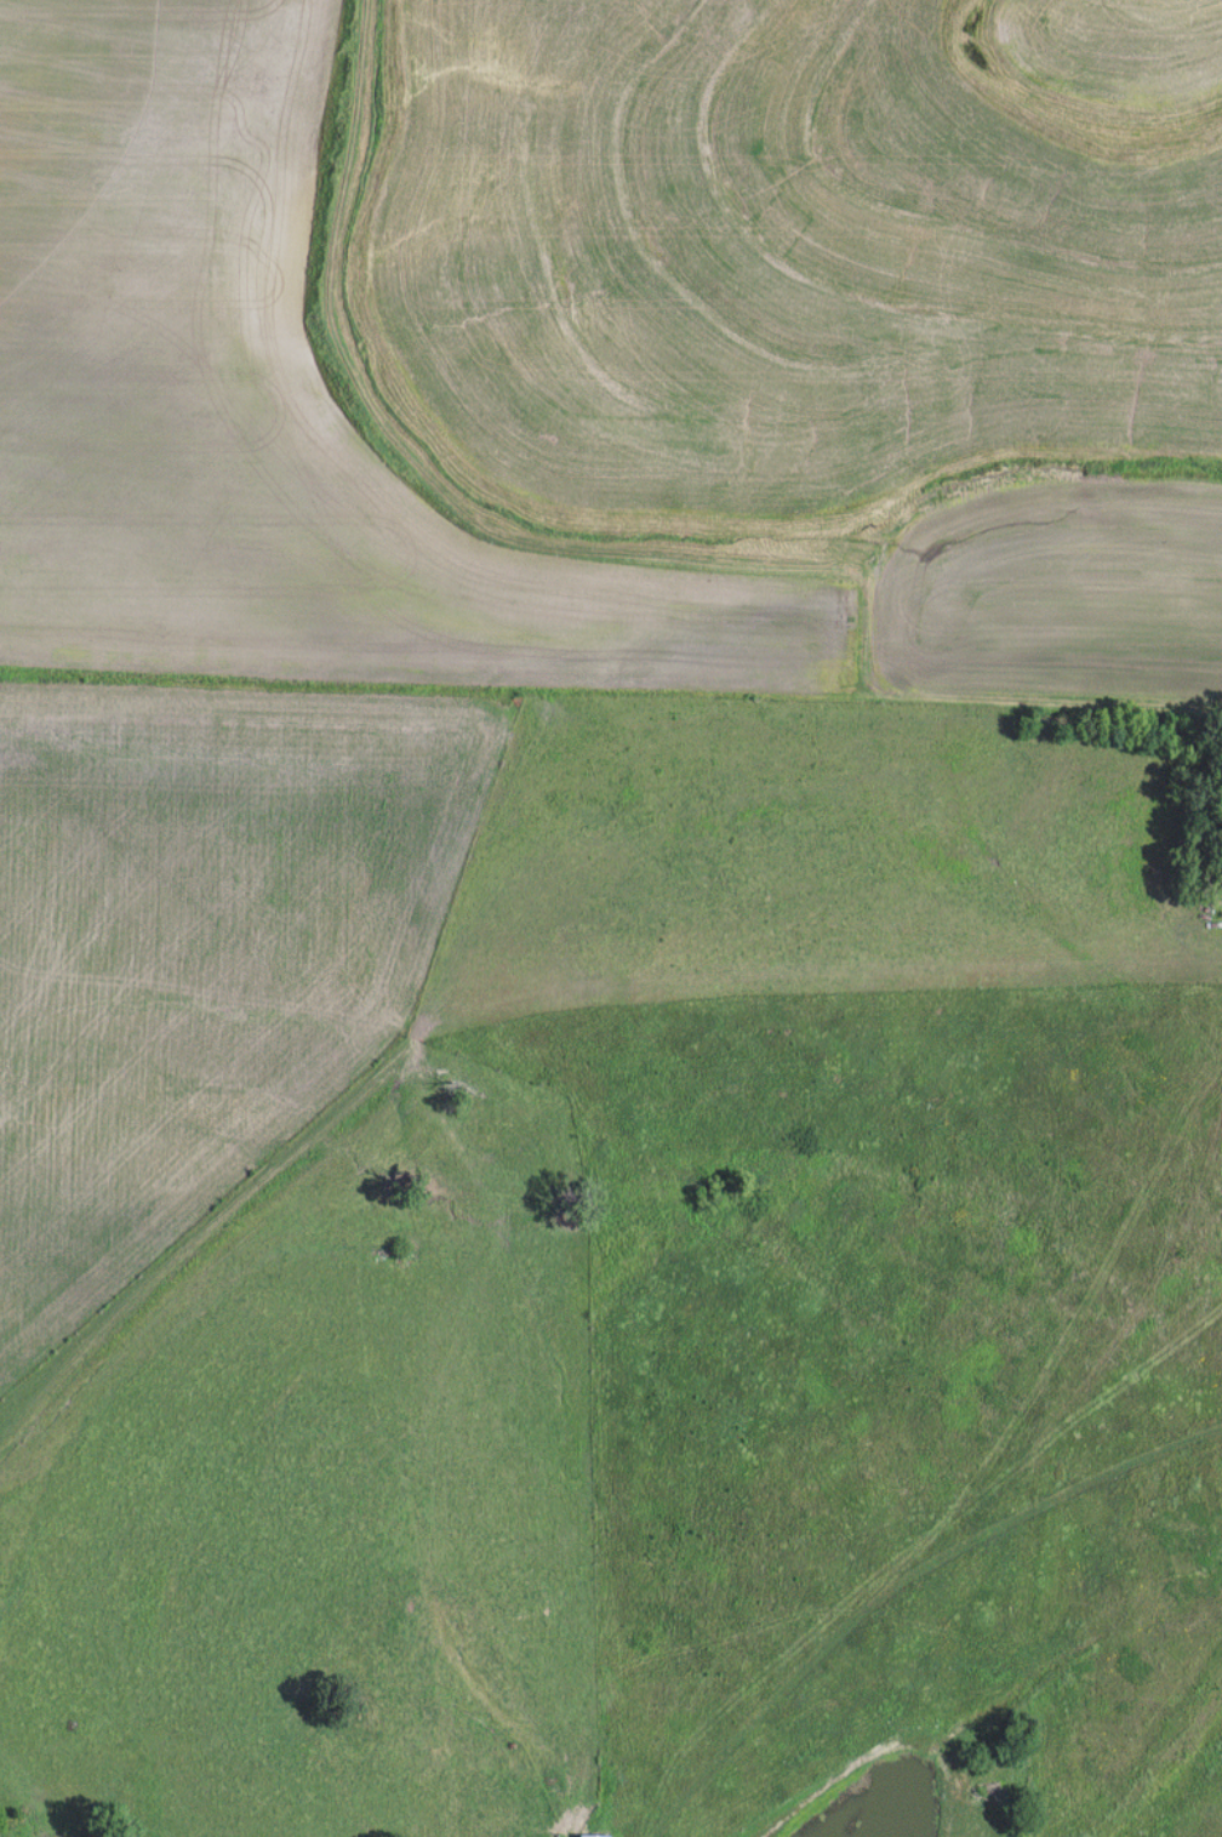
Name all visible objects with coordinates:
road: (548, 1022)
building: (587, 1835)

